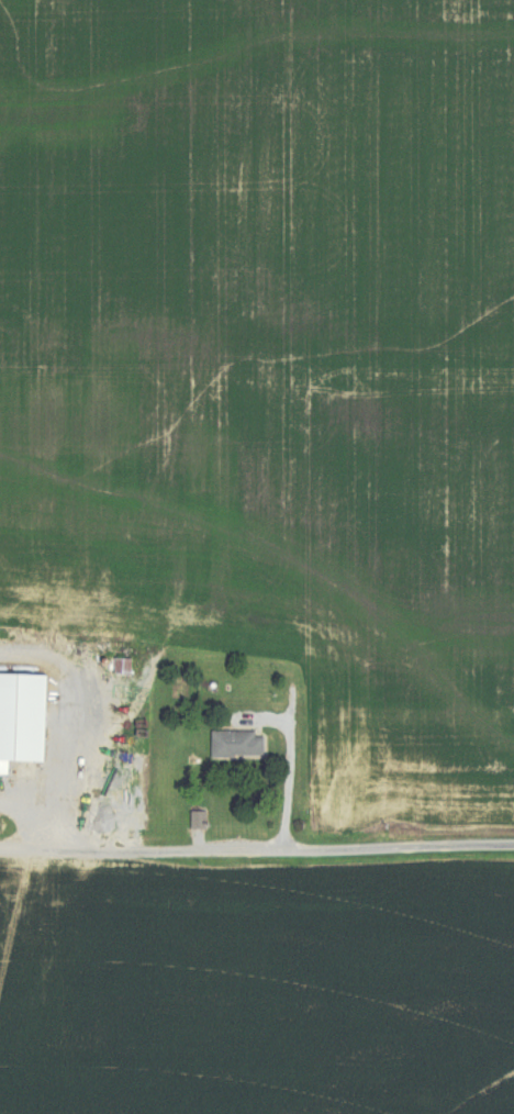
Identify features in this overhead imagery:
building: (20, 717)
building: (235, 744)
road: (76, 760)
road: (292, 767)
road: (29, 810)
road: (257, 850)

